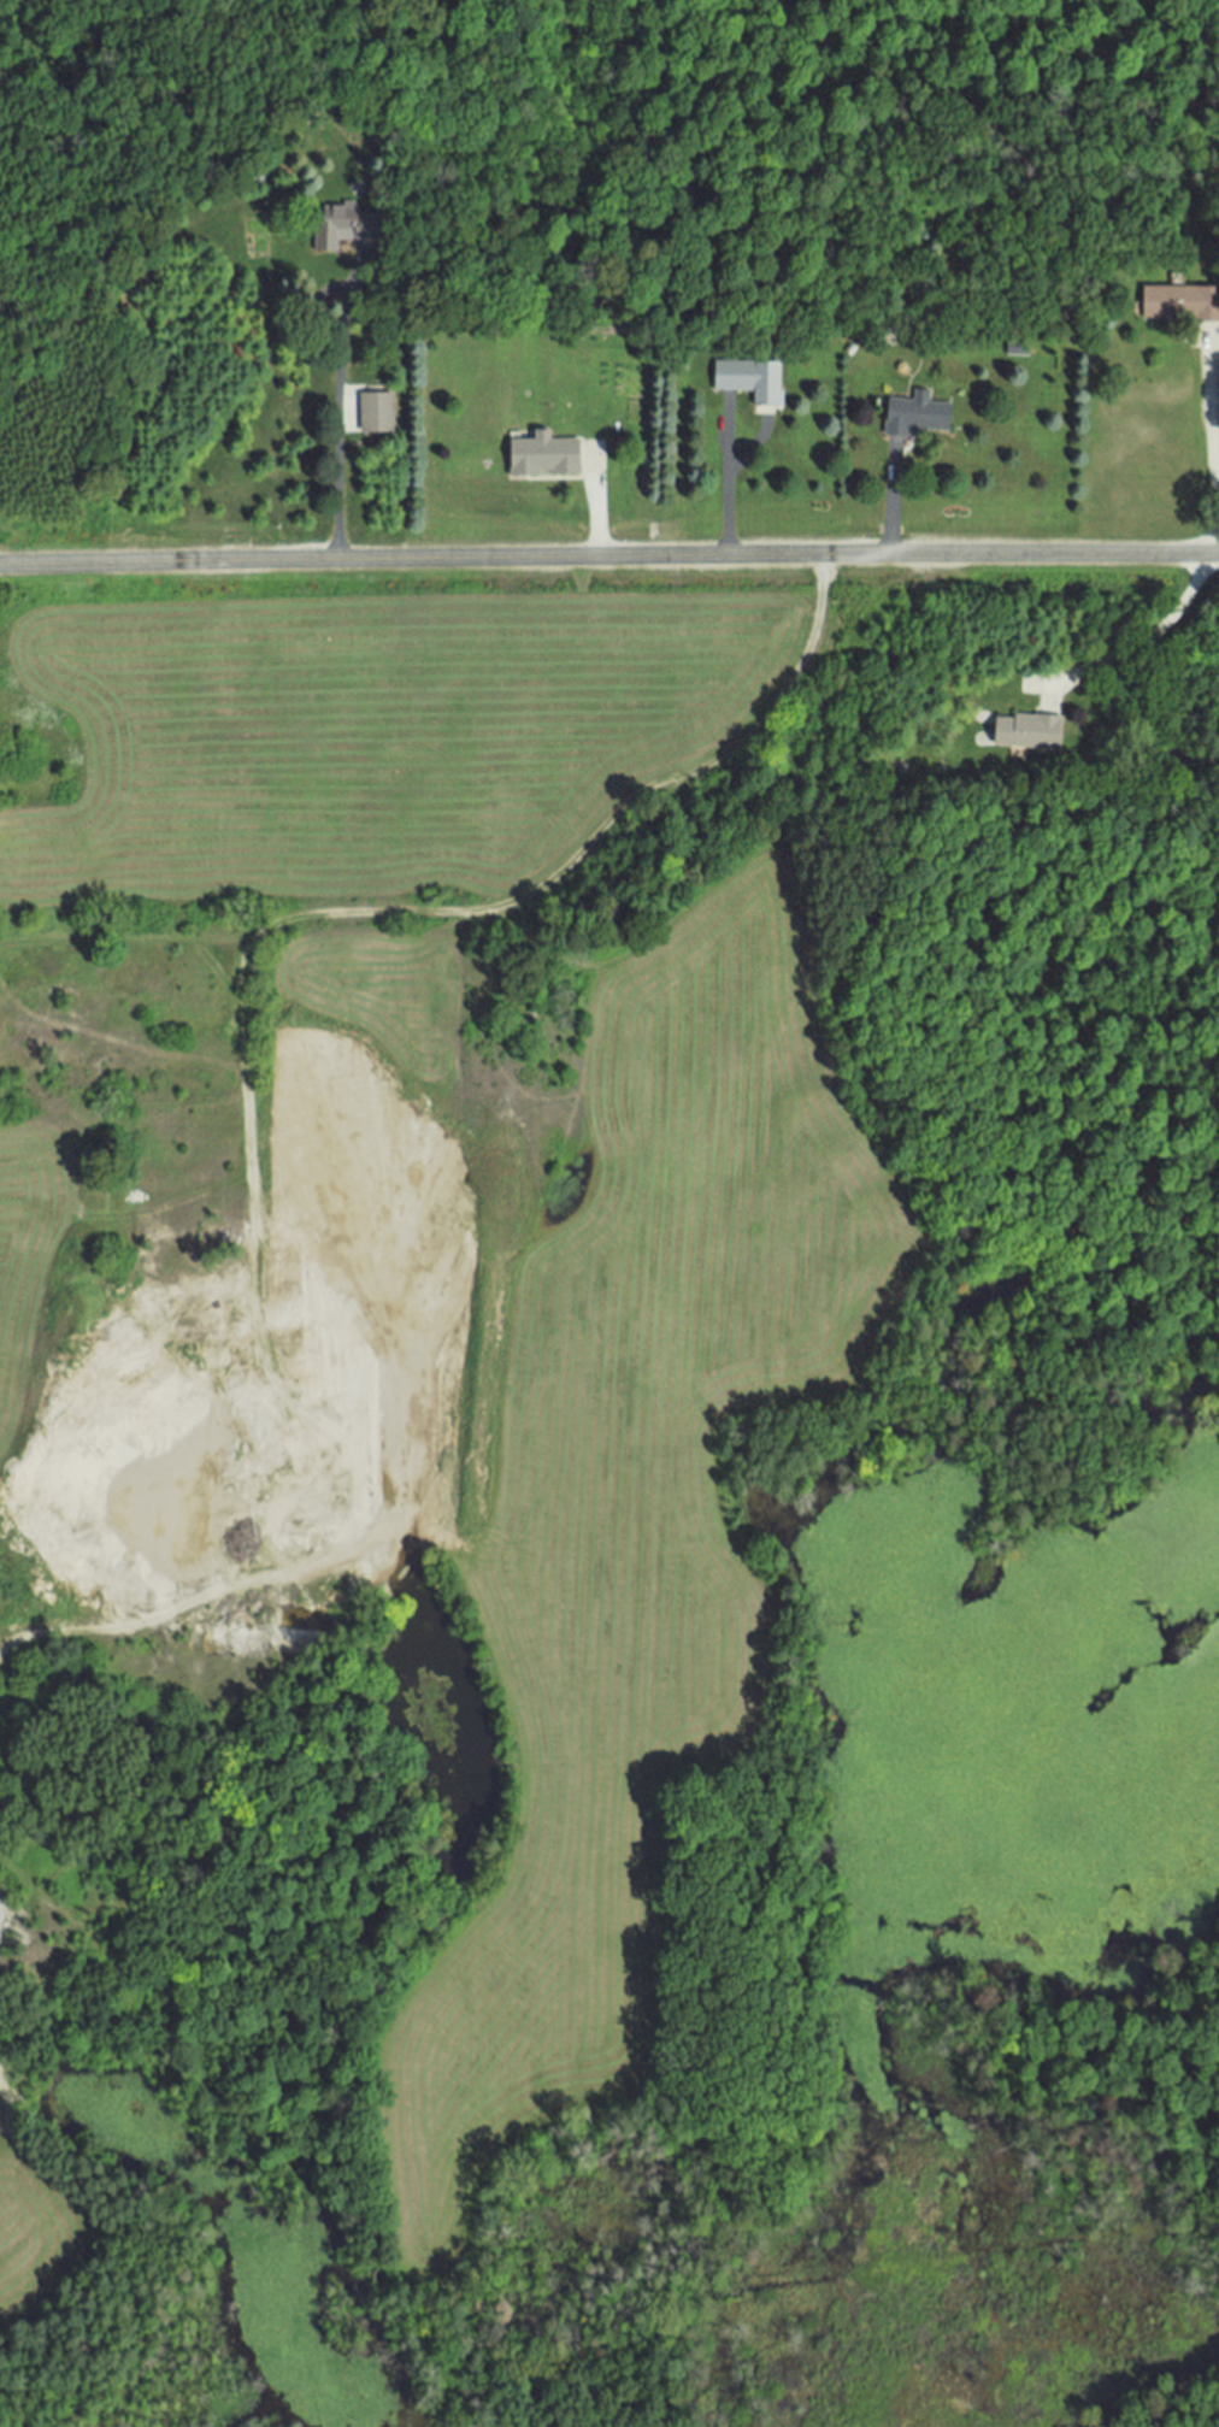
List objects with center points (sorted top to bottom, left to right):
building: (343, 230)
building: (1180, 306)
building: (749, 382)
building: (376, 416)
building: (918, 417)
road: (336, 423)
road: (1213, 456)
building: (543, 458)
road: (725, 487)
road: (890, 505)
road: (599, 517)
road: (608, 558)
road: (1147, 641)
building: (1027, 734)
road: (238, 1065)
quarry: (163, 1539)

